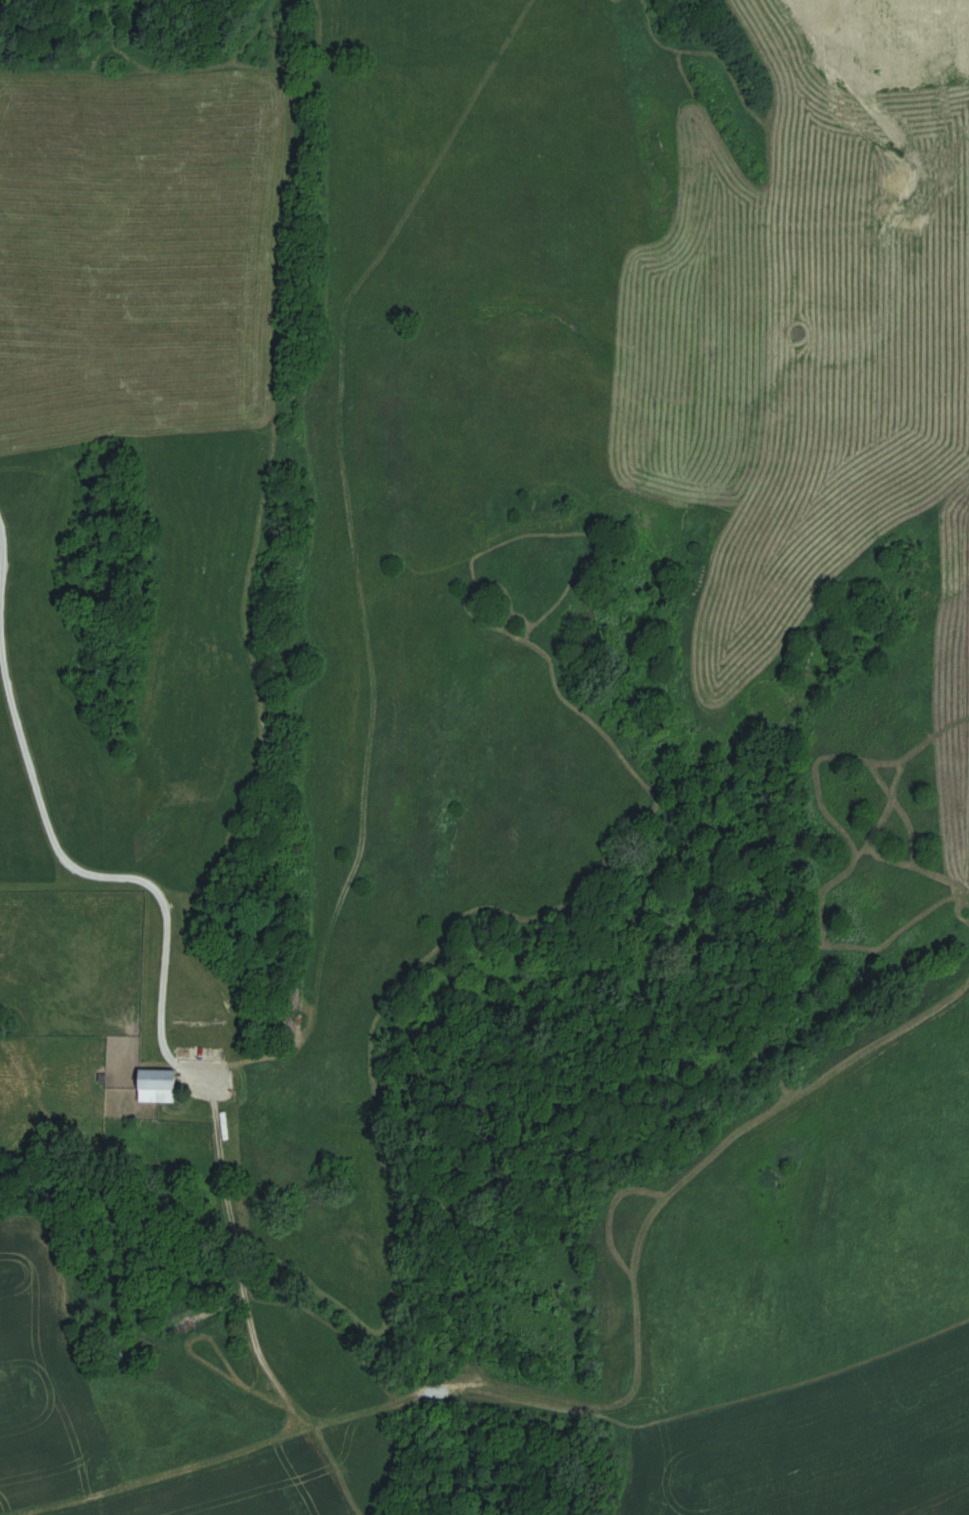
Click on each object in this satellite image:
building: (909, 17)
road: (156, 1026)
building: (157, 1085)

